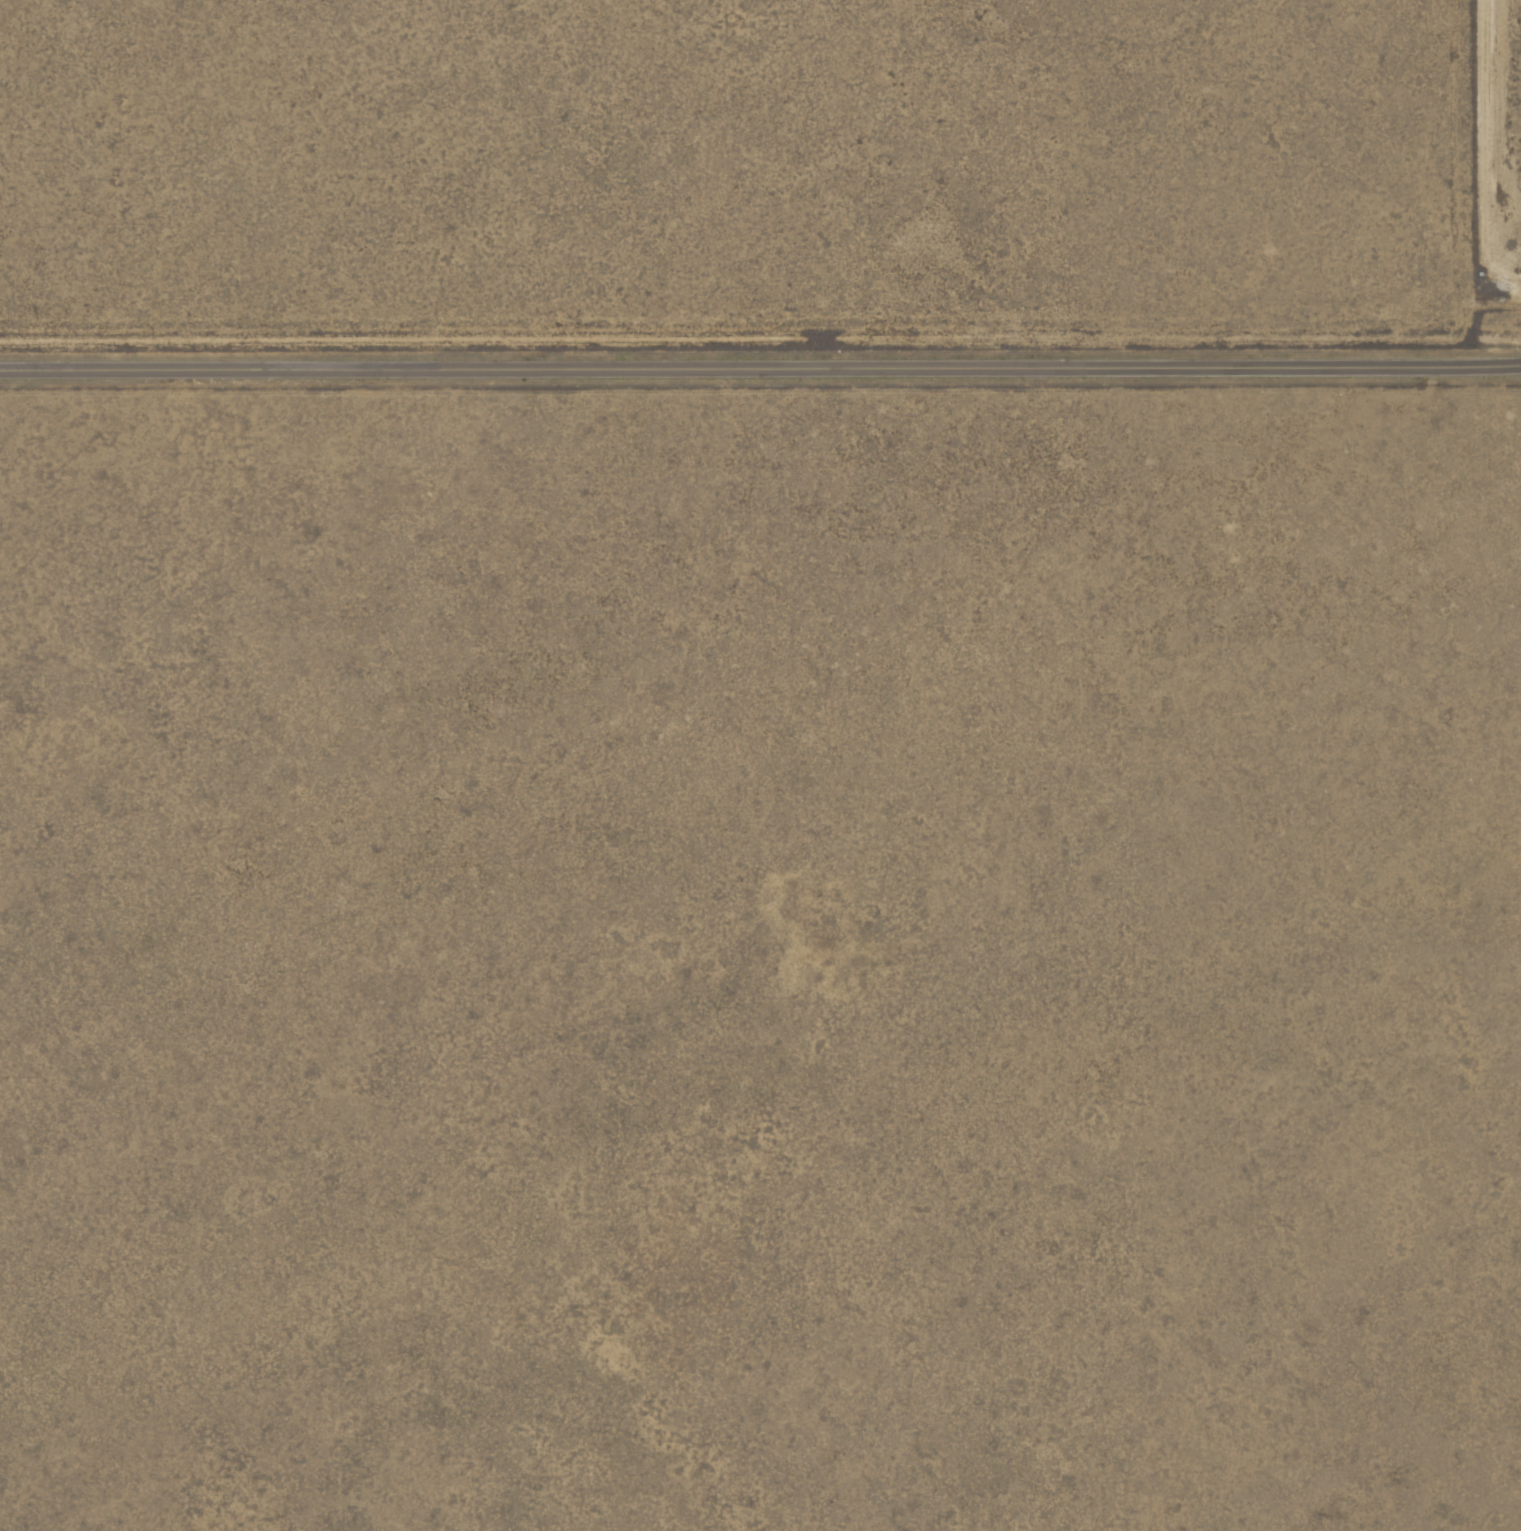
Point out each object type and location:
airport: (1497, 147)
road: (760, 360)

